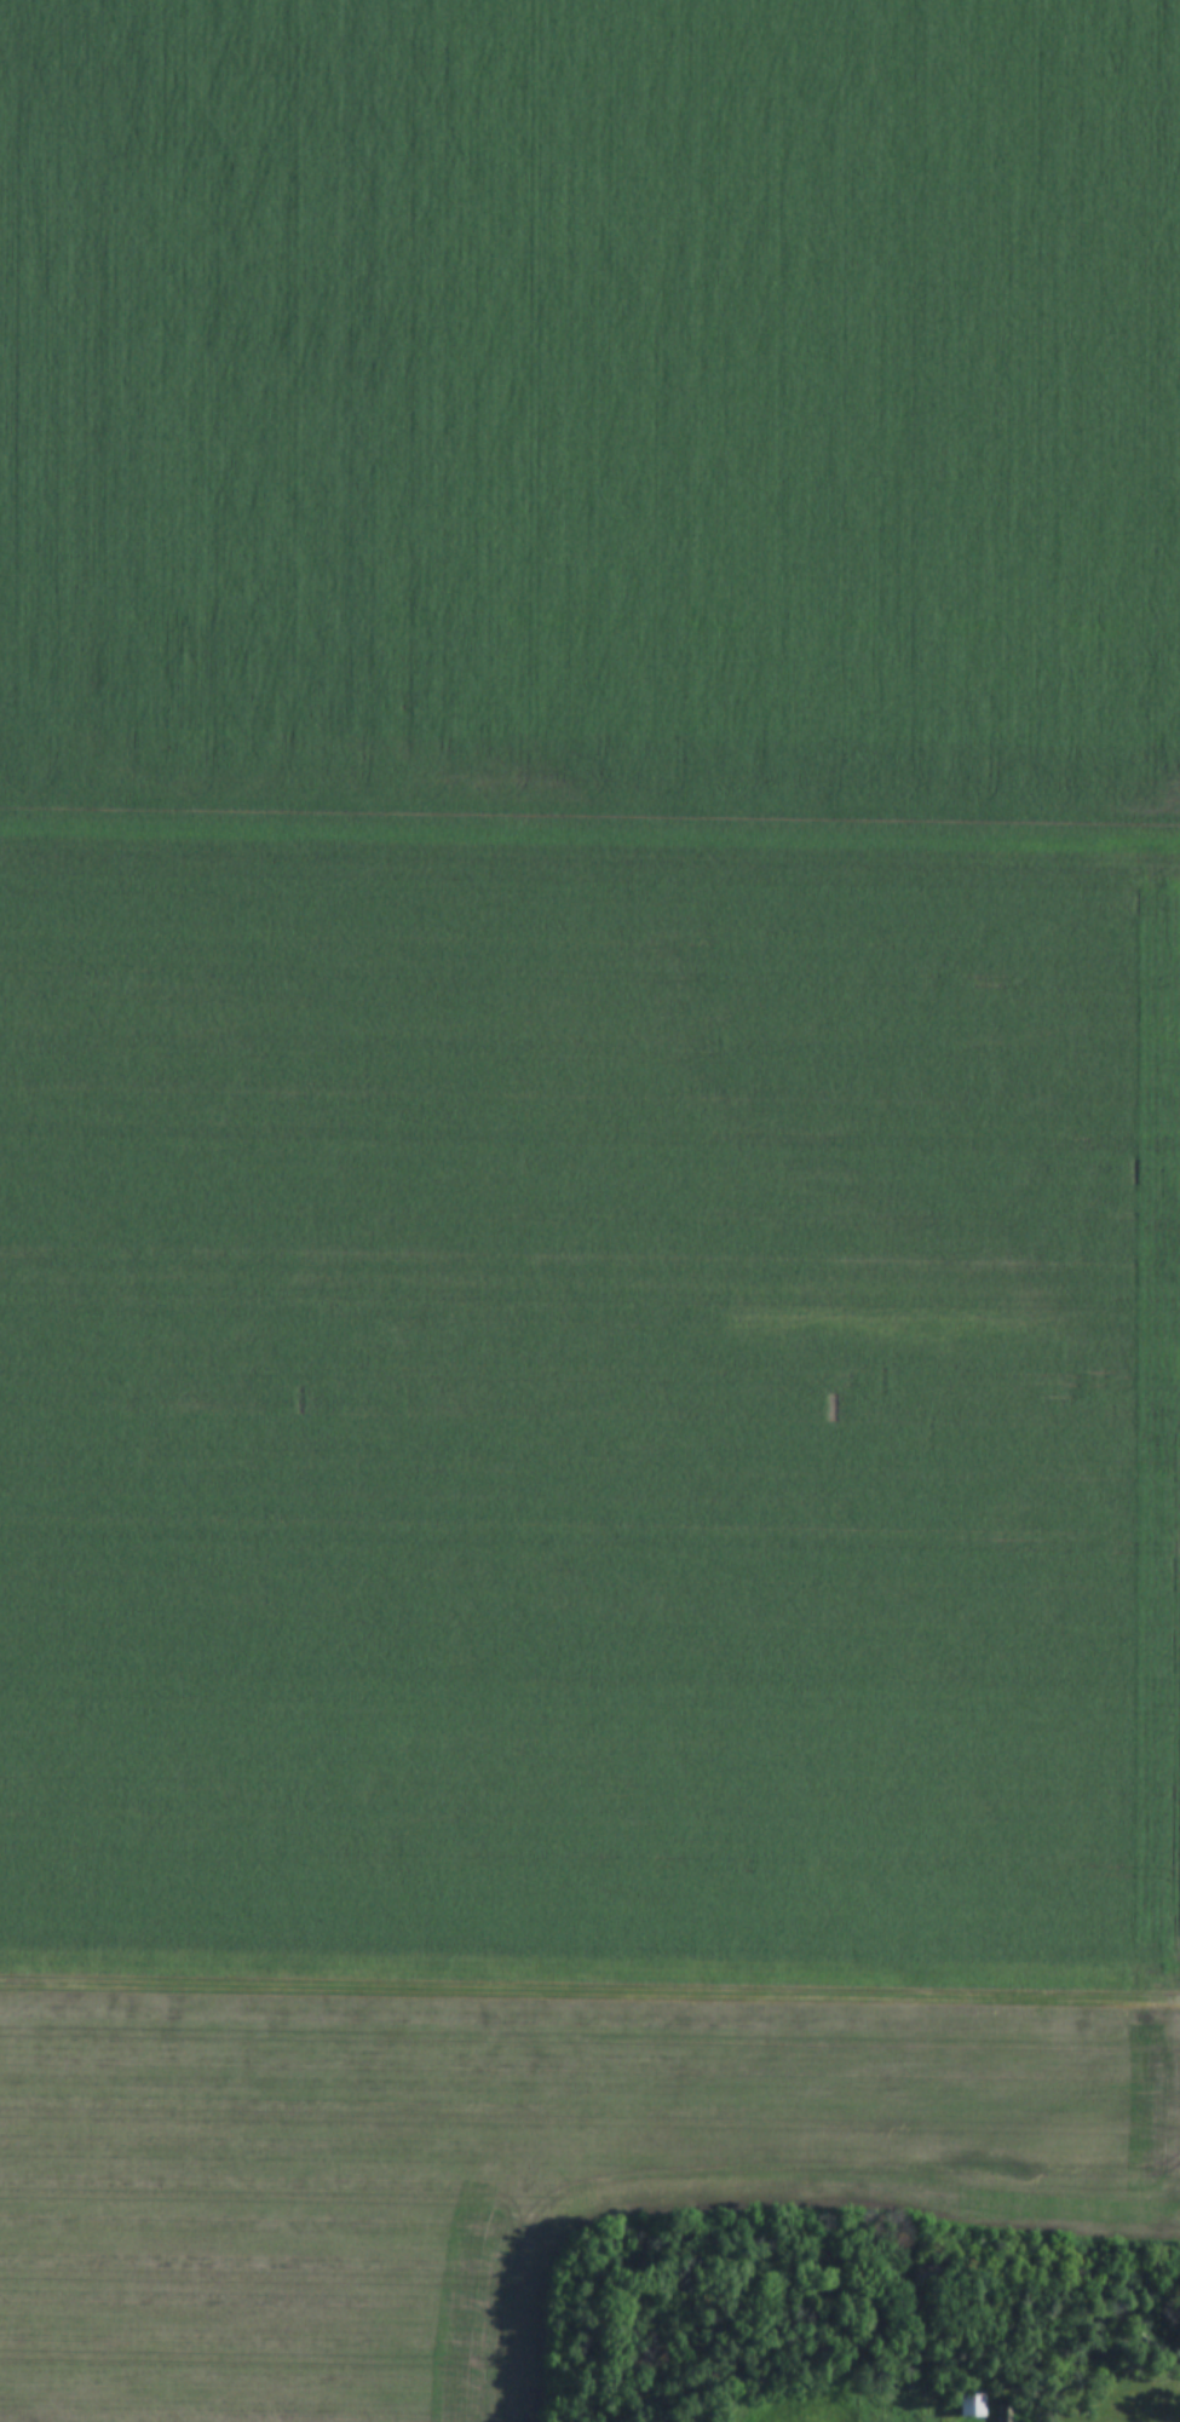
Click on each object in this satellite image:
building: (973, 2405)
building: (1005, 2414)

